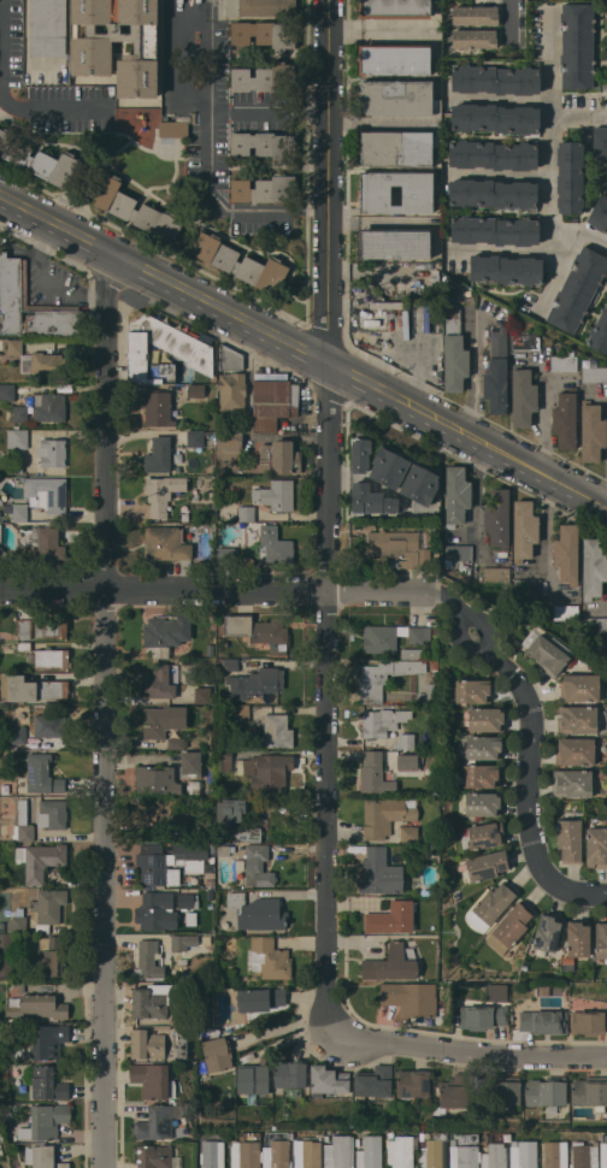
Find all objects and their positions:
building: (260, 7)
building: (395, 8)
building: (475, 14)
road: (515, 19)
building: (48, 26)
building: (265, 33)
building: (475, 37)
building: (577, 45)
building: (92, 46)
building: (606, 49)
building: (394, 59)
road: (547, 59)
building: (264, 77)
building: (496, 79)
road: (8, 98)
building: (397, 98)
road: (269, 111)
building: (496, 118)
building: (175, 126)
building: (600, 142)
building: (265, 144)
building: (397, 147)
building: (494, 154)
building: (40, 159)
road: (210, 159)
road: (550, 172)
building: (570, 176)
building: (265, 188)
building: (494, 193)
building: (418, 195)
building: (134, 207)
building: (600, 212)
building: (495, 230)
building: (394, 242)
road: (507, 249)
building: (240, 262)
building: (506, 269)
building: (13, 281)
building: (578, 289)
building: (600, 331)
building: (525, 341)
building: (0, 342)
building: (181, 343)
road: (306, 349)
building: (454, 352)
building: (230, 358)
building: (37, 359)
building: (564, 362)
building: (497, 372)
building: (594, 373)
building: (196, 390)
building: (7, 391)
building: (231, 391)
building: (524, 396)
building: (273, 400)
building: (49, 406)
building: (158, 408)
building: (19, 413)
building: (565, 419)
building: (249, 421)
building: (593, 431)
building: (17, 437)
building: (195, 438)
building: (228, 444)
building: (52, 452)
building: (159, 454)
building: (361, 454)
building: (279, 456)
building: (389, 466)
building: (420, 483)
building: (47, 492)
building: (161, 492)
building: (276, 494)
building: (458, 494)
building: (211, 495)
building: (371, 499)
building: (0, 501)
road: (330, 503)
building: (16, 511)
building: (246, 512)
building: (497, 517)
building: (524, 529)
building: (0, 531)
building: (47, 542)
building: (166, 542)
building: (276, 545)
building: (397, 545)
building: (459, 551)
building: (226, 553)
building: (567, 553)
building: (4, 554)
building: (594, 567)
building: (496, 573)
building: (526, 585)
road: (213, 589)
building: (565, 610)
building: (595, 624)
building: (24, 627)
building: (51, 627)
building: (255, 627)
building: (167, 630)
building: (435, 630)
building: (419, 633)
building: (381, 638)
building: (24, 645)
building: (160, 651)
building: (412, 653)
building: (546, 653)
building: (49, 657)
building: (230, 663)
building: (431, 663)
building: (384, 678)
building: (435, 679)
building: (159, 682)
building: (255, 683)
building: (579, 686)
building: (31, 688)
building: (472, 690)
building: (201, 694)
building: (429, 694)
road: (105, 710)
building: (241, 713)
building: (485, 718)
building: (578, 719)
building: (163, 720)
building: (378, 722)
building: (49, 725)
building: (277, 731)
building: (17, 735)
building: (407, 739)
building: (172, 743)
building: (428, 744)
building: (48, 745)
road: (534, 745)
building: (483, 747)
building: (576, 751)
building: (224, 760)
building: (191, 762)
building: (408, 762)
building: (266, 769)
building: (42, 773)
building: (375, 773)
building: (481, 774)
building: (157, 779)
building: (572, 783)
building: (482, 803)
building: (153, 807)
building: (230, 809)
building: (23, 812)
building: (52, 814)
building: (387, 815)
building: (182, 826)
building: (23, 832)
building: (247, 833)
building: (409, 833)
building: (482, 834)
building: (570, 839)
building: (596, 846)
building: (223, 850)
building: (191, 855)
building: (40, 860)
building: (488, 865)
building: (155, 866)
building: (258, 866)
building: (381, 872)
building: (210, 883)
building: (210, 893)
building: (188, 901)
building: (210, 904)
building: (491, 904)
building: (48, 907)
building: (157, 910)
building: (258, 912)
building: (191, 918)
building: (393, 918)
building: (16, 925)
building: (2, 927)
building: (509, 927)
building: (547, 932)
building: (579, 938)
building: (601, 938)
building: (183, 940)
building: (51, 955)
building: (6, 956)
building: (269, 957)
building: (149, 958)
building: (391, 962)
building: (524, 966)
building: (18, 985)
building: (409, 997)
building: (154, 999)
building: (254, 999)
building: (37, 1005)
building: (481, 1016)
building: (543, 1021)
building: (589, 1022)
building: (47, 1040)
building: (147, 1043)
road: (459, 1048)
building: (214, 1055)
building: (289, 1073)
building: (253, 1079)
building: (153, 1080)
building: (328, 1080)
building: (373, 1081)
building: (46, 1083)
building: (413, 1083)
building: (500, 1091)
building: (590, 1091)
building: (454, 1092)
building: (546, 1092)
building: (45, 1121)
building: (158, 1121)
building: (422, 1135)
building: (358, 1142)
building: (400, 1151)
building: (340, 1152)
building: (370, 1152)
building: (213, 1154)
building: (247, 1154)
building: (432, 1154)
building: (556, 1154)
building: (277, 1155)
building: (307, 1155)
building: (464, 1155)
building: (524, 1155)
building: (585, 1155)
building: (42, 1156)
building: (495, 1156)
building: (158, 1157)
building: (605, 1164)

